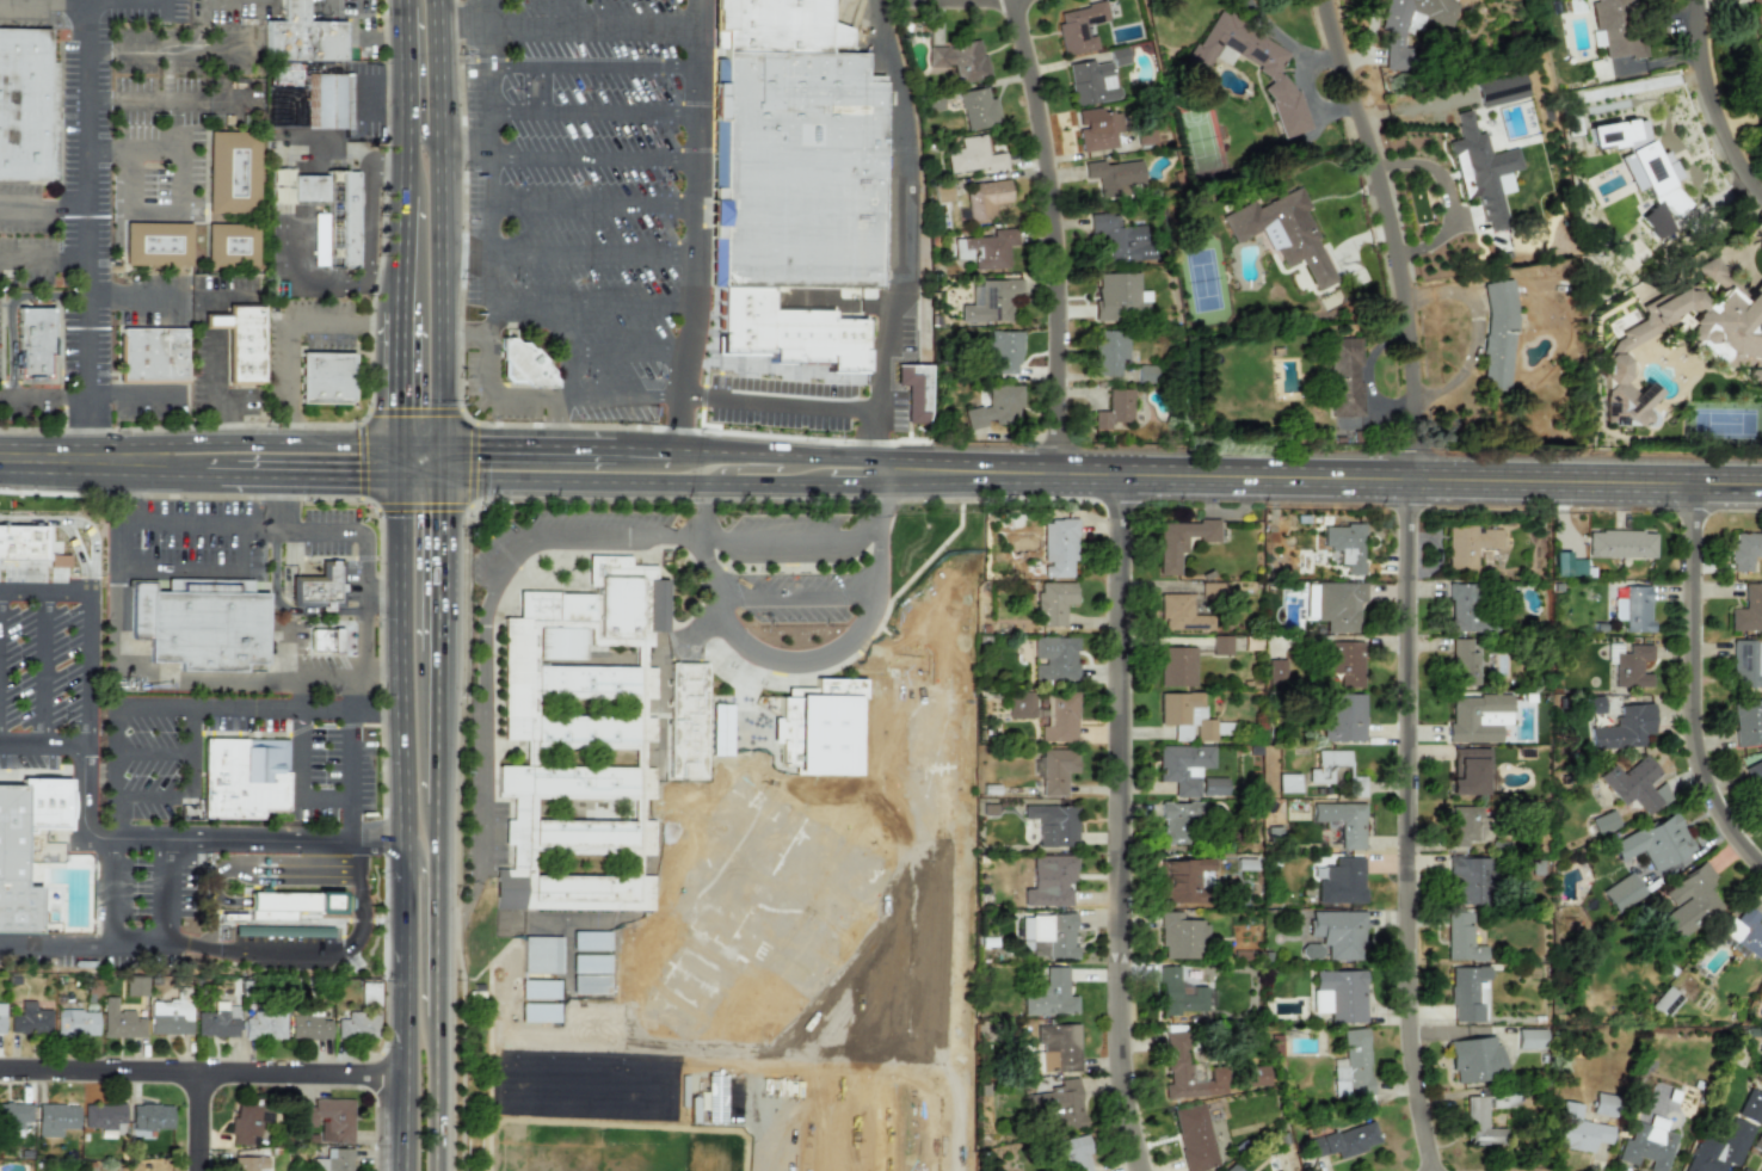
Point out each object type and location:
road: (331, 4)
road: (954, 7)
building: (1758, 19)
road: (461, 25)
building: (1410, 25)
building: (776, 26)
building: (1078, 26)
building: (1616, 29)
road: (596, 31)
building: (301, 36)
road: (363, 44)
road: (164, 48)
building: (1117, 56)
building: (959, 60)
road: (594, 67)
building: (1269, 73)
road: (420, 75)
building: (1090, 82)
building: (1499, 90)
road: (407, 98)
building: (326, 100)
road: (167, 103)
building: (26, 105)
building: (978, 109)
road: (1705, 112)
road: (594, 113)
parking lot: (573, 122)
building: (1098, 129)
building: (1145, 135)
road: (436, 140)
road: (463, 150)
building: (973, 155)
road: (593, 156)
building: (1640, 161)
building: (797, 171)
building: (1483, 171)
building: (232, 172)
building: (1115, 177)
building: (295, 186)
road: (183, 192)
building: (985, 198)
road: (592, 207)
road: (907, 210)
road: (44, 211)
building: (1655, 222)
building: (337, 224)
road: (694, 227)
road: (90, 229)
building: (1282, 233)
road: (409, 238)
building: (1120, 238)
road: (1046, 240)
building: (156, 244)
building: (230, 245)
building: (986, 248)
road: (463, 254)
road: (591, 255)
road: (303, 257)
road: (44, 260)
building: (1758, 286)
road: (134, 292)
road: (409, 296)
building: (1120, 296)
building: (991, 301)
road: (632, 304)
road: (10, 307)
road: (438, 307)
road: (573, 310)
road: (288, 318)
road: (488, 318)
building: (789, 333)
building: (1497, 334)
building: (1725, 339)
parking lot: (572, 340)
building: (33, 341)
building: (242, 341)
road: (630, 351)
building: (1004, 351)
building: (1109, 351)
building: (152, 353)
building: (524, 365)
road: (60, 370)
road: (439, 372)
building: (1344, 376)
building: (325, 377)
road: (407, 380)
building: (914, 390)
road: (371, 392)
road: (492, 395)
road: (88, 396)
road: (563, 397)
parking lot: (784, 402)
building: (996, 407)
building: (1114, 408)
road: (415, 413)
road: (487, 424)
road: (440, 430)
road: (260, 442)
road: (879, 442)
road: (423, 446)
road: (497, 448)
road: (583, 450)
road: (640, 451)
road: (776, 457)
road: (60, 458)
road: (361, 460)
road: (405, 461)
road: (439, 462)
road: (745, 466)
road: (160, 474)
road: (319, 474)
road: (218, 475)
road: (421, 477)
road: (495, 481)
road: (690, 483)
road: (856, 483)
road: (1321, 489)
road: (276, 504)
road: (468, 506)
parking lot: (599, 518)
parking lot: (790, 520)
road: (81, 522)
road: (164, 531)
road: (700, 537)
road: (363, 538)
parking lot: (199, 540)
parking lot: (334, 541)
building: (1179, 541)
building: (38, 542)
road: (796, 542)
building: (1620, 543)
building: (1345, 544)
building: (1467, 544)
building: (1058, 547)
building: (1744, 549)
parking lot: (489, 551)
road: (670, 551)
road: (339, 557)
road: (438, 565)
road: (202, 568)
road: (1410, 580)
road: (642, 585)
building: (319, 586)
building: (1212, 590)
road: (381, 592)
road: (830, 592)
road: (43, 593)
road: (796, 599)
building: (1053, 602)
building: (1310, 604)
building: (1338, 604)
building: (554, 605)
building: (657, 605)
building: (616, 608)
building: (1633, 608)
building: (1465, 609)
building: (138, 610)
building: (1748, 610)
road: (291, 612)
building: (1181, 612)
road: (689, 617)
road: (867, 624)
building: (207, 629)
road: (591, 634)
building: (326, 640)
road: (364, 642)
building: (560, 642)
road: (734, 645)
building: (1221, 645)
parking lot: (39, 649)
building: (1053, 658)
road: (486, 661)
building: (1464, 662)
building: (1746, 662)
building: (1345, 664)
building: (1176, 665)
building: (1632, 666)
road: (43, 670)
road: (143, 671)
building: (1275, 671)
road: (377, 672)
road: (325, 673)
building: (515, 678)
building: (584, 679)
road: (350, 690)
road: (1687, 695)
road: (585, 696)
parking lot: (734, 699)
road: (300, 701)
building: (1019, 704)
building: (1595, 704)
road: (193, 705)
road: (84, 715)
road: (350, 716)
building: (1185, 716)
building: (1059, 717)
building: (1343, 717)
building: (1477, 717)
building: (686, 721)
building: (1746, 721)
parking lot: (244, 722)
road: (365, 725)
road: (324, 726)
building: (1624, 727)
road: (437, 728)
building: (584, 729)
building: (720, 729)
road: (252, 734)
road: (41, 745)
road: (585, 745)
road: (177, 753)
parking lot: (152, 766)
building: (1182, 766)
building: (1054, 770)
building: (1335, 770)
building: (1467, 770)
parking lot: (337, 775)
road: (407, 775)
building: (244, 776)
building: (1755, 778)
building: (565, 779)
building: (1287, 782)
building: (1635, 784)
building: (1213, 785)
road: (174, 795)
road: (637, 796)
road: (327, 800)
building: (1177, 820)
building: (1342, 821)
building: (1603, 821)
road: (350, 822)
building: (1052, 824)
building: (1464, 825)
road: (1114, 830)
building: (584, 833)
road: (437, 837)
building: (1655, 842)
road: (245, 843)
building: (29, 846)
road: (583, 851)
road: (425, 852)
park: (726, 875)
building: (1181, 879)
building: (1049, 880)
building: (1470, 880)
building: (1342, 881)
building: (581, 888)
road: (107, 890)
road: (164, 892)
building: (1621, 892)
park: (685, 898)
building: (1688, 900)
building: (289, 905)
building: (1744, 931)
building: (1338, 932)
building: (1047, 935)
building: (1181, 936)
building: (1461, 938)
building: (590, 941)
road: (81, 942)
road: (437, 944)
road: (307, 950)
building: (1311, 950)
building: (541, 955)
road: (493, 961)
building: (590, 963)
building: (624, 976)
building: (647, 976)
building: (590, 984)
building: (135, 985)
building: (1168, 990)
building: (369, 993)
building: (1467, 993)
building: (1051, 994)
building: (1338, 994)
building: (1665, 1001)
park: (839, 1012)
building: (170, 1017)
building: (1, 1018)
building: (30, 1018)
building: (119, 1021)
building: (217, 1021)
building: (264, 1024)
building: (357, 1027)
building: (309, 1028)
building: (1529, 1037)
building: (1058, 1047)
building: (1176, 1049)
building: (1276, 1049)
building: (1474, 1059)
road: (489, 1067)
building: (1353, 1067)
road: (203, 1076)
building: (1250, 1076)
park: (606, 1092)
road: (436, 1095)
building: (1059, 1104)
building: (1602, 1104)
building: (14, 1115)
building: (103, 1116)
building: (150, 1117)
building: (55, 1120)
building: (328, 1120)
road: (197, 1123)
building: (247, 1123)
road: (406, 1123)
building: (1479, 1123)
building: (1577, 1129)
building: (1193, 1138)
building: (1727, 1138)
building: (1344, 1140)
building: (1646, 1144)
building: (248, 1164)
building: (1228, 1167)
building: (1742, 1170)

